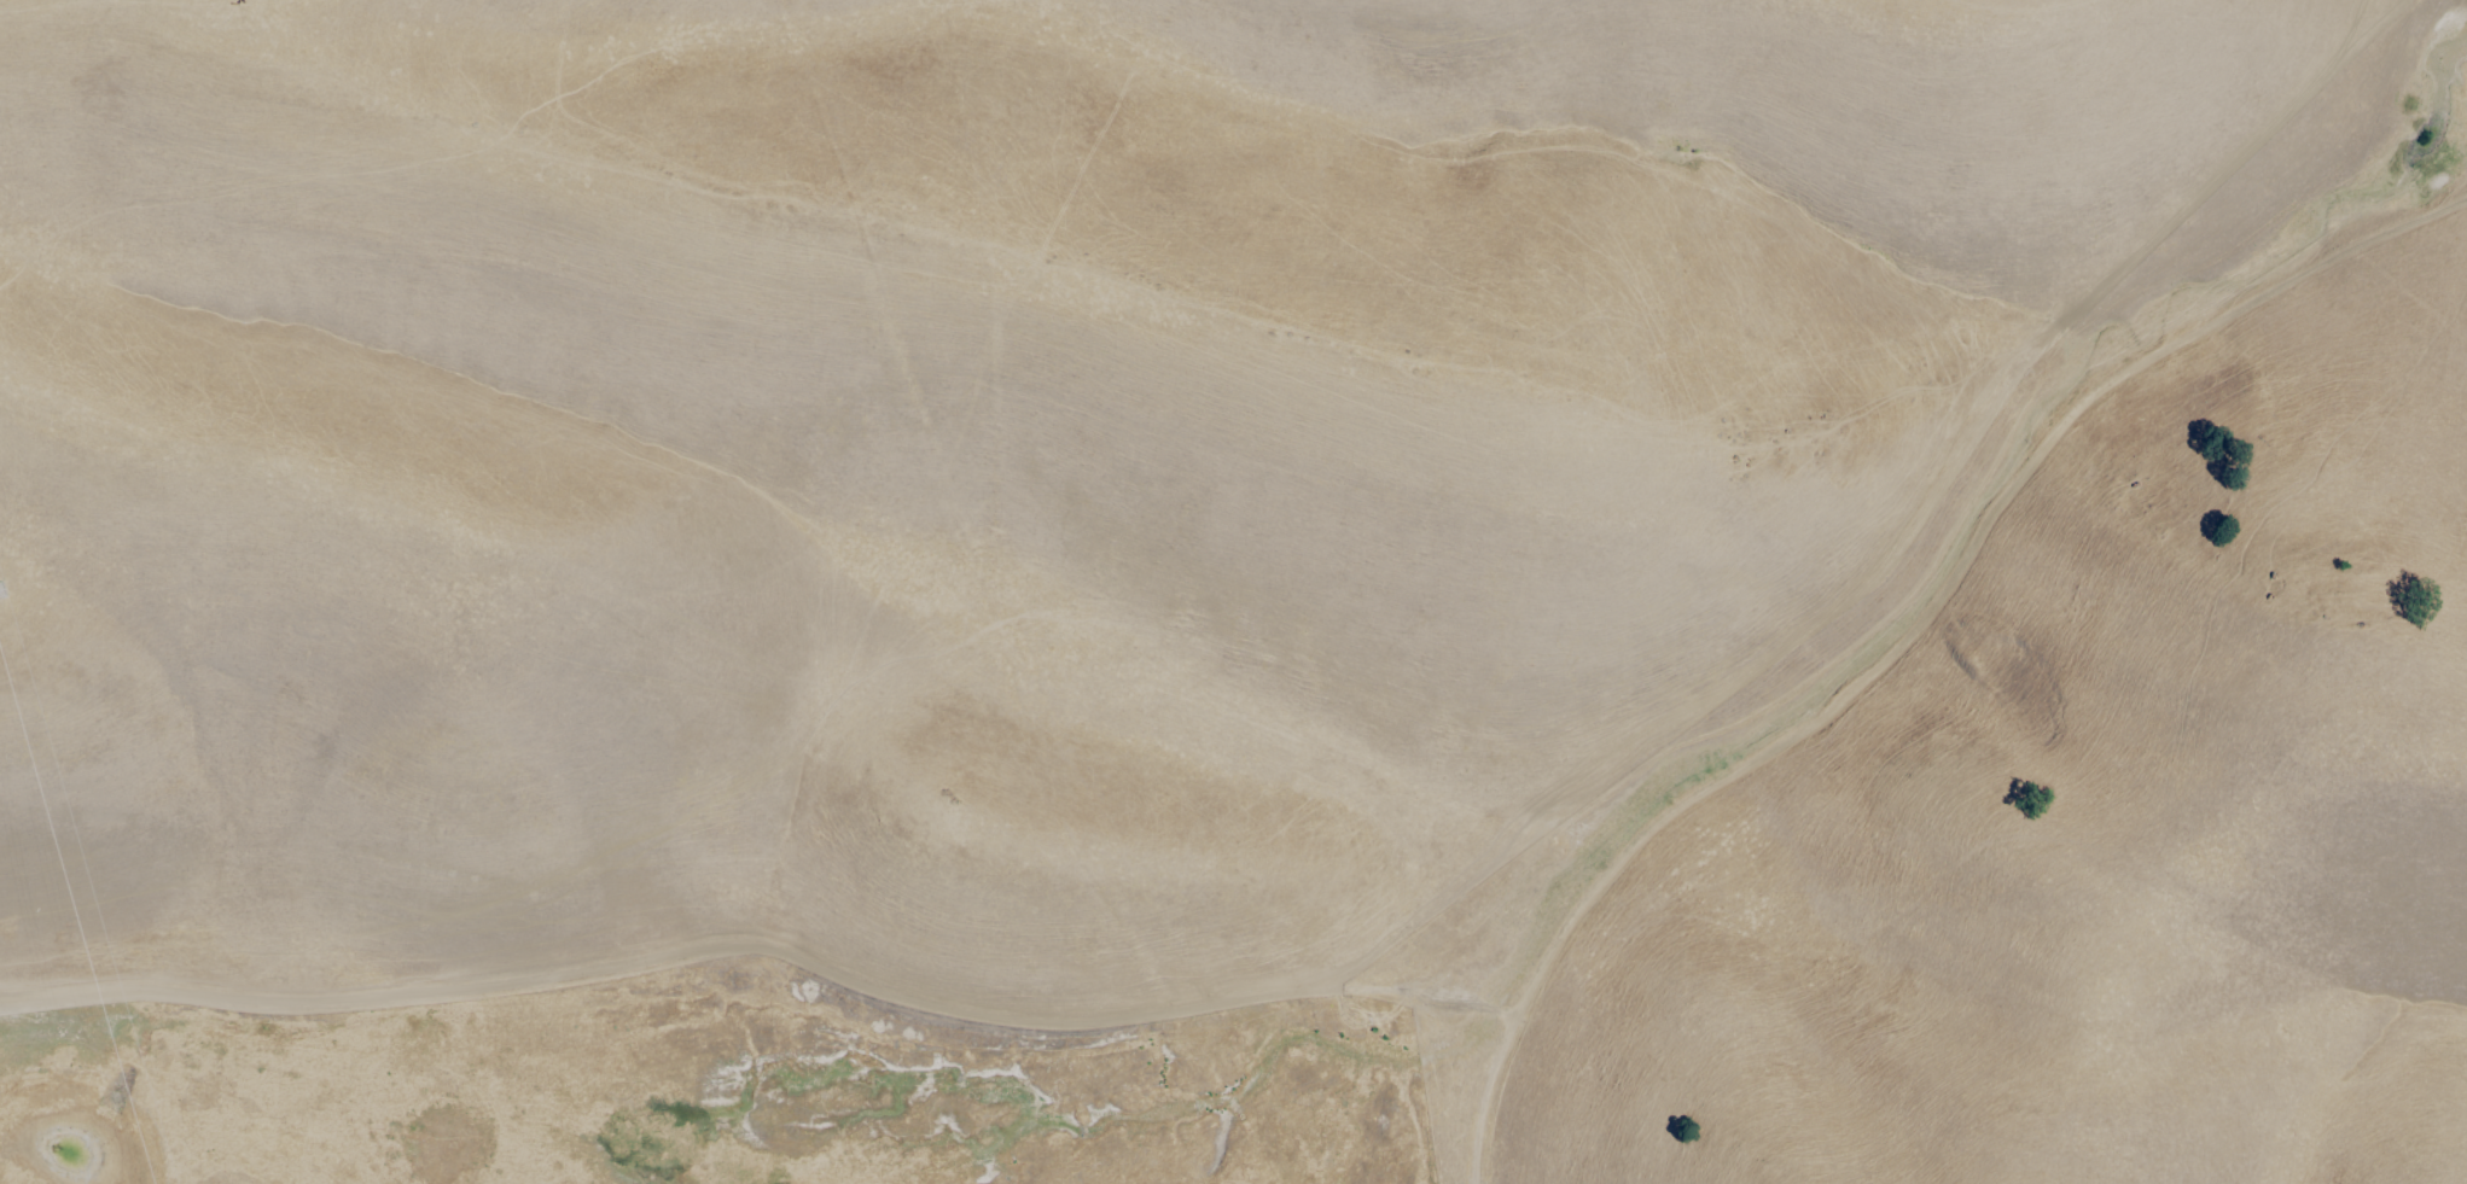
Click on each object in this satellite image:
road: (676, 958)

